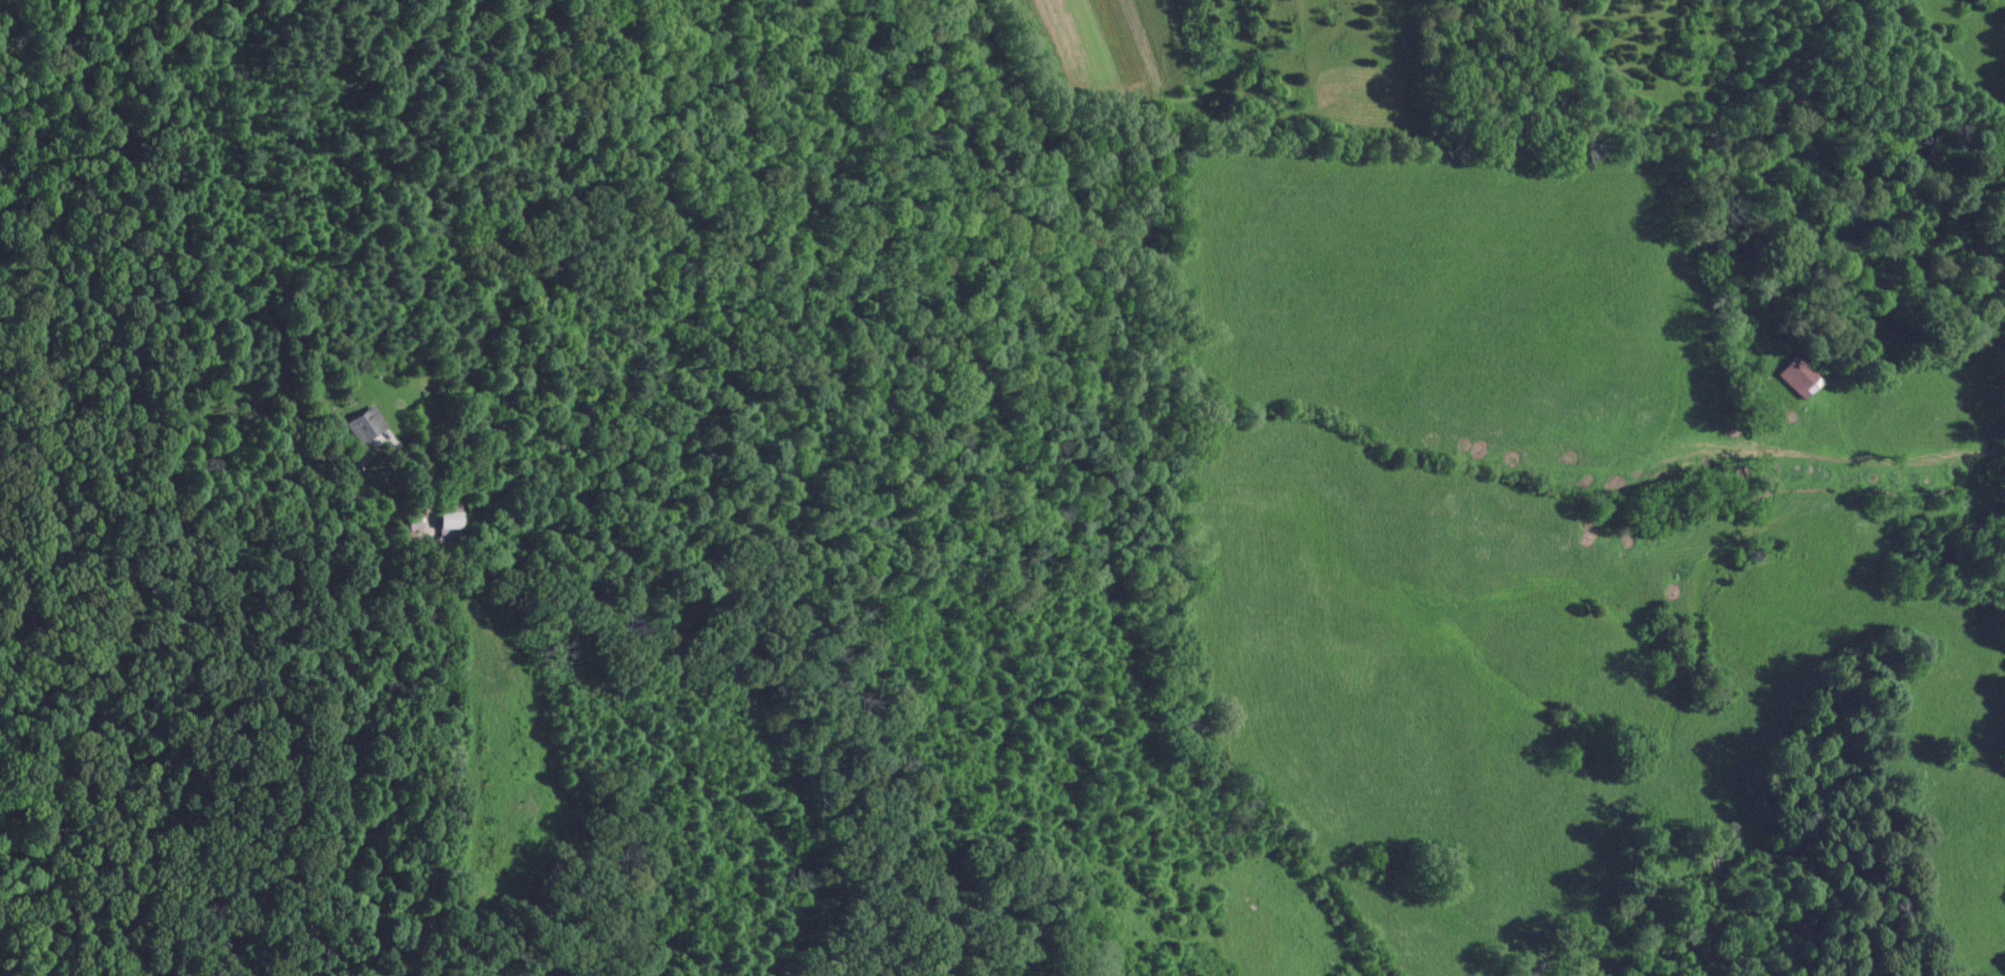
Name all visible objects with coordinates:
building: (1799, 372)
building: (364, 422)
building: (448, 518)

